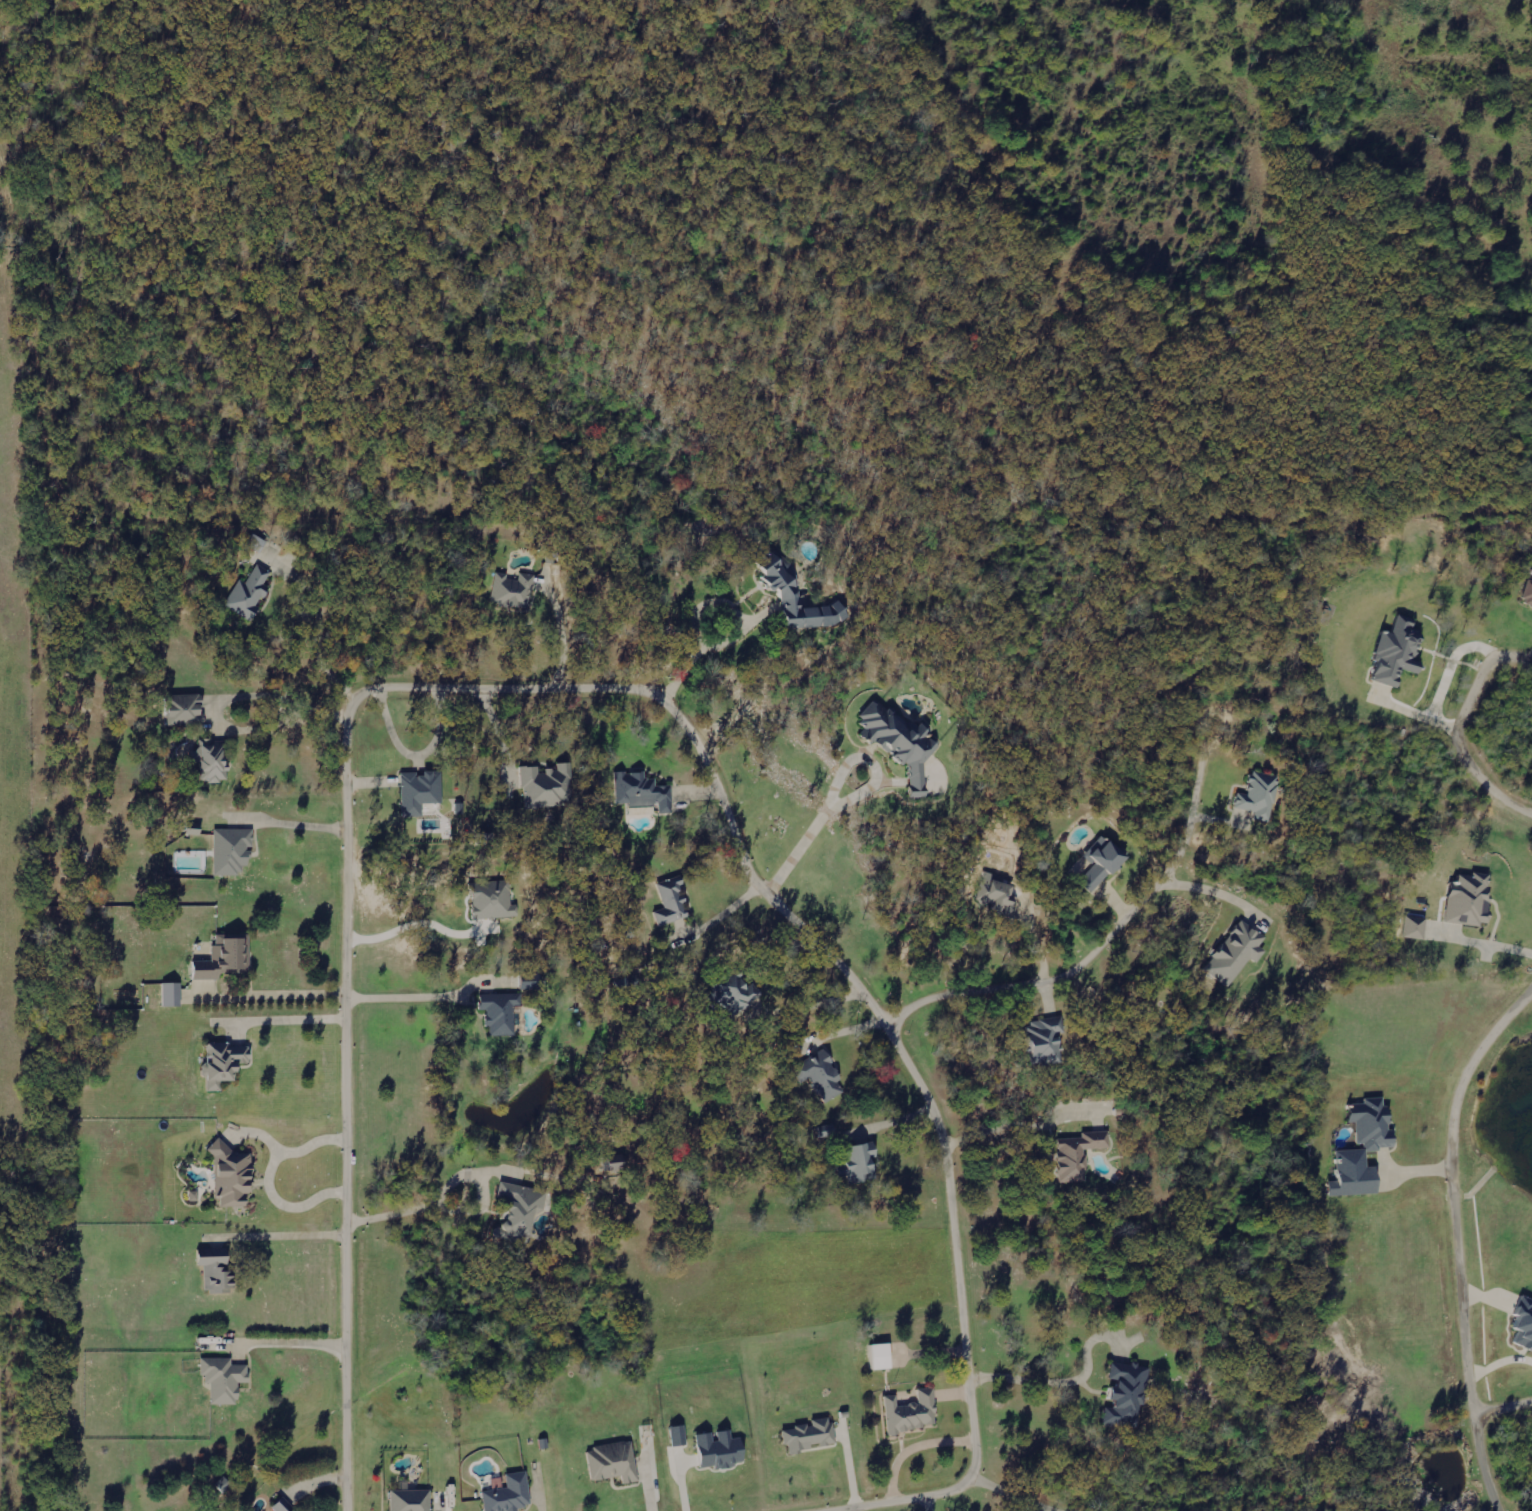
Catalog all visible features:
building: (258, 542)
building: (515, 589)
building: (251, 593)
building: (1528, 594)
building: (791, 595)
road: (738, 635)
building: (1399, 652)
road: (626, 684)
building: (187, 709)
road: (1458, 730)
building: (904, 742)
building: (211, 759)
building: (548, 785)
building: (421, 790)
building: (643, 791)
building: (1261, 793)
building: (233, 850)
building: (1104, 861)
building: (998, 896)
building: (493, 899)
building: (1471, 899)
building: (672, 901)
building: (1416, 927)
road: (1120, 933)
building: (1238, 952)
building: (225, 958)
building: (735, 992)
building: (172, 994)
road: (402, 995)
building: (502, 1012)
building: (1047, 1040)
building: (226, 1063)
building: (1365, 1148)
building: (1080, 1154)
building: (861, 1164)
building: (234, 1176)
road: (458, 1210)
building: (521, 1212)
road: (1453, 1238)
building: (218, 1269)
building: (1525, 1322)
building: (884, 1356)
building: (225, 1379)
building: (1128, 1393)
road: (1501, 1410)
building: (913, 1412)
building: (679, 1435)
building: (812, 1435)
building: (721, 1449)
building: (614, 1462)
building: (511, 1494)
building: (412, 1500)
building: (284, 1506)

